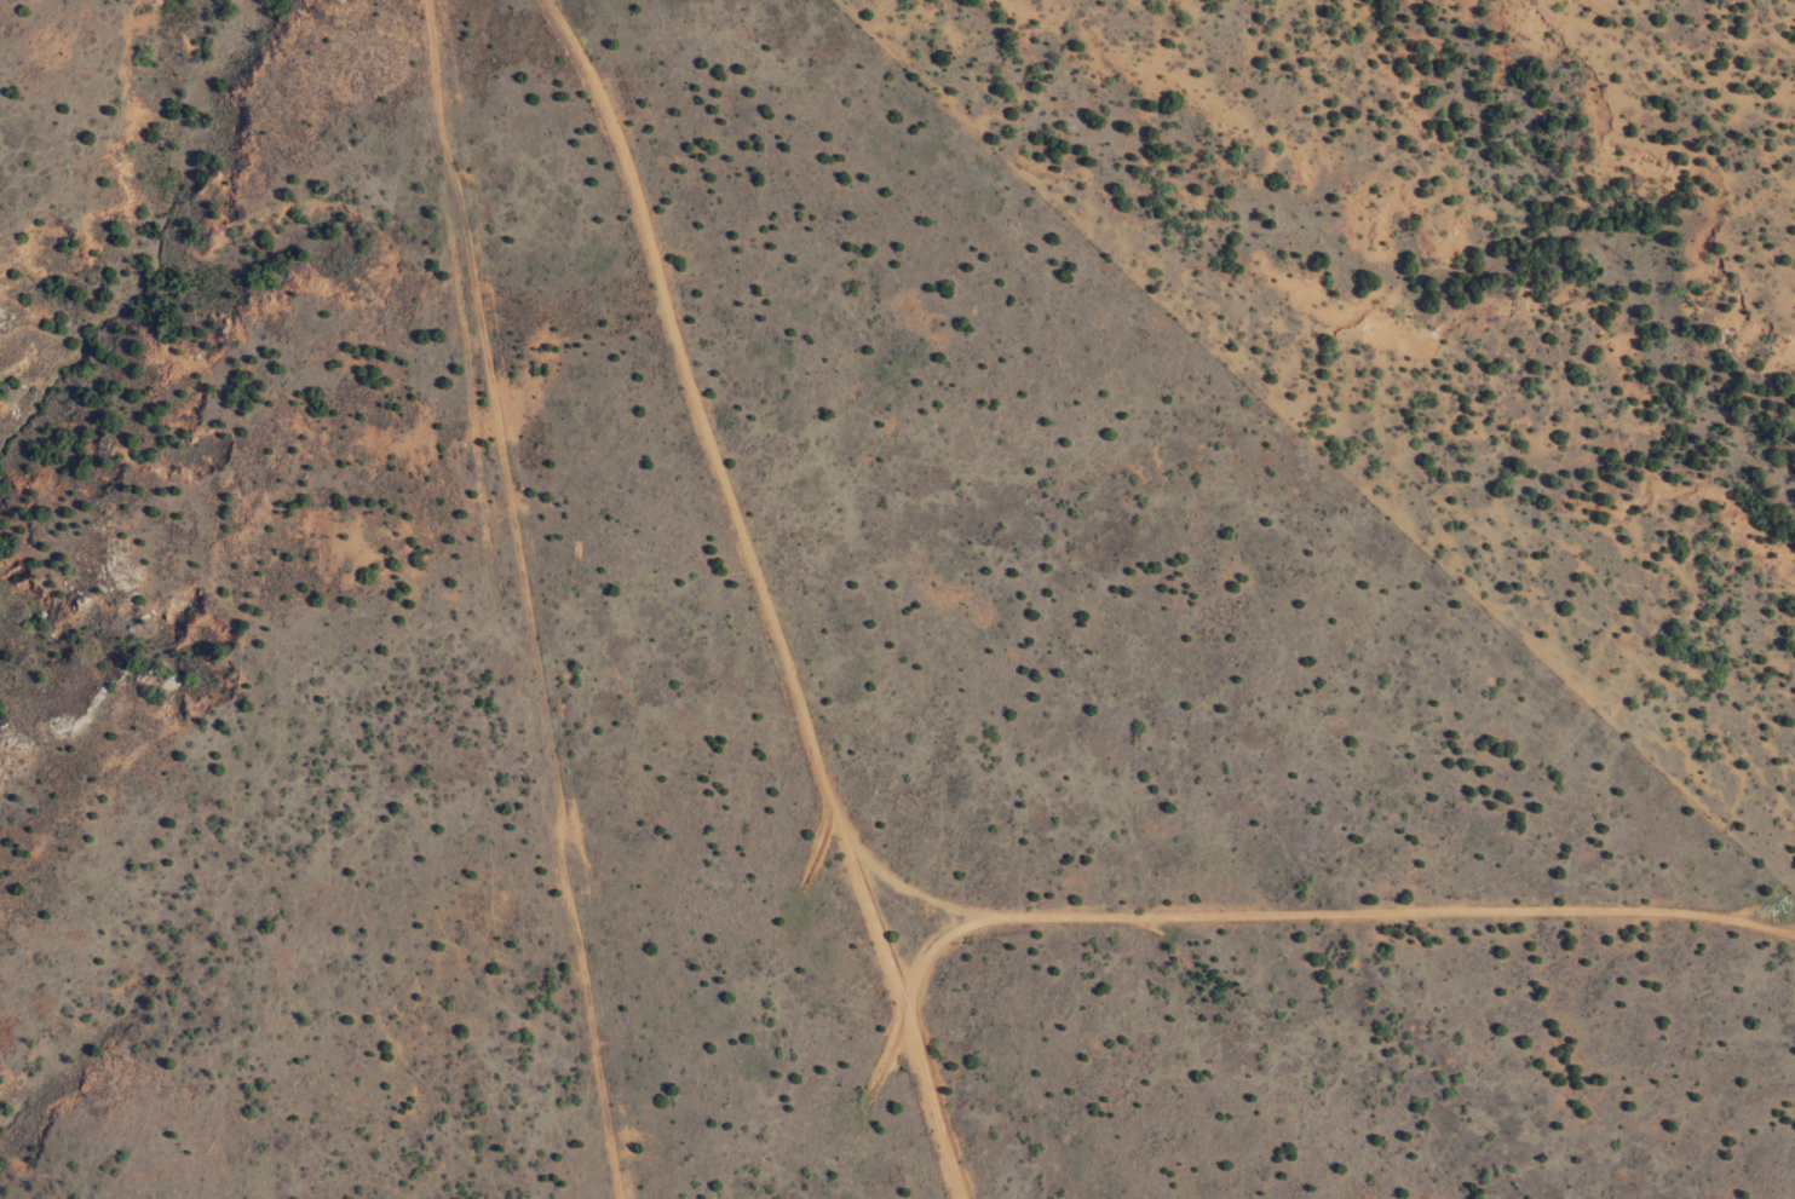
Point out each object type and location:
road: (484, 609)
road: (1342, 899)

